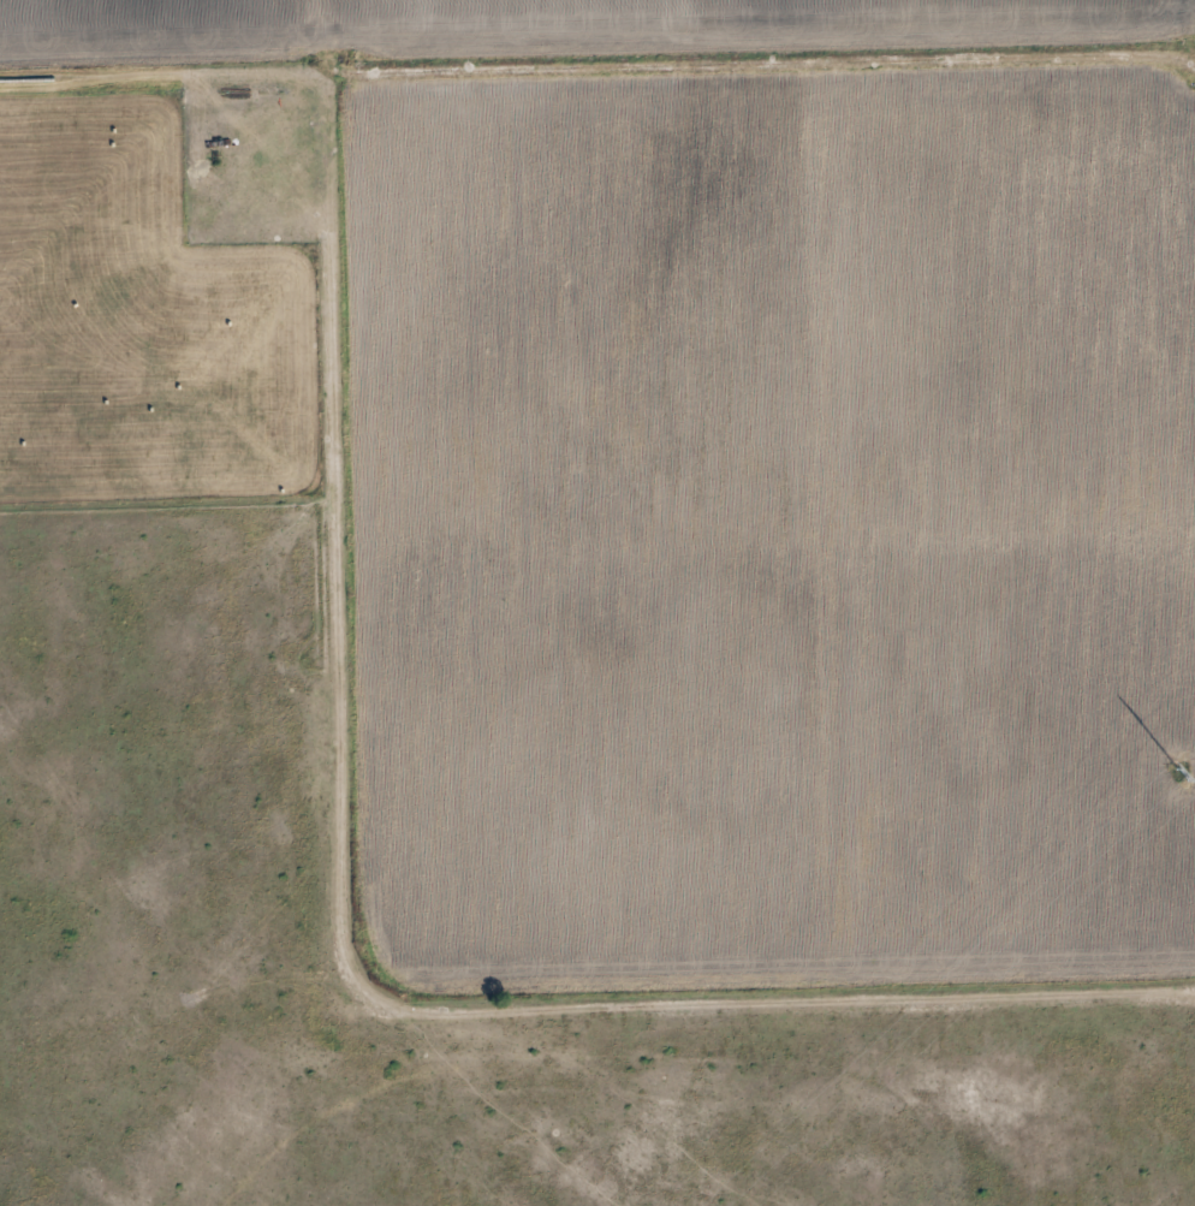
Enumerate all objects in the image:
power tower: (1184, 771)

